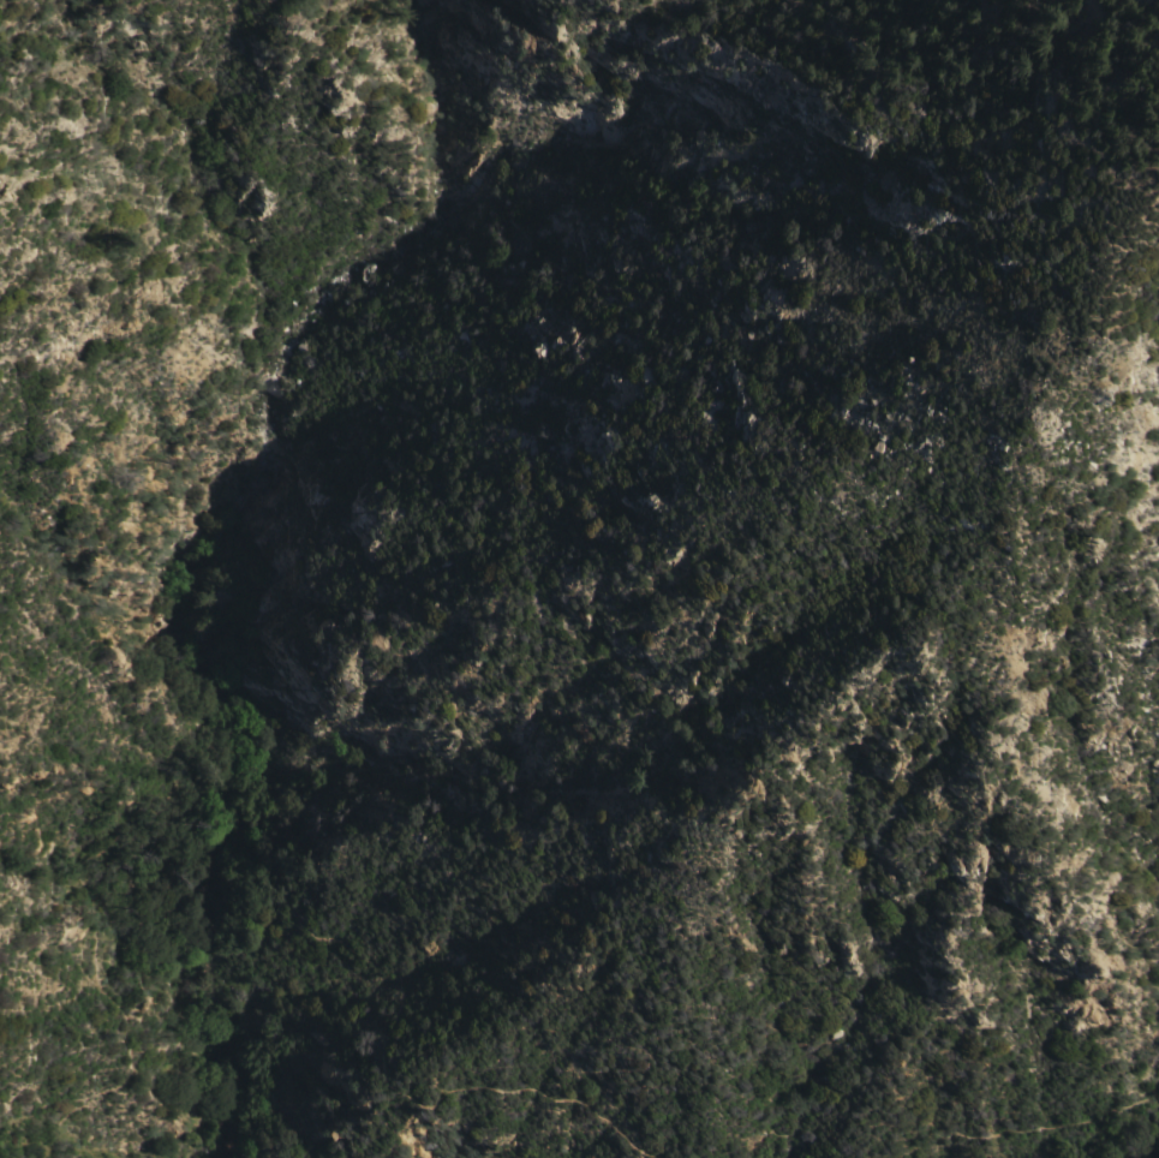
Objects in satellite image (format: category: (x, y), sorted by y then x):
road: (271, 810)
road: (794, 1132)
road: (1027, 1134)

